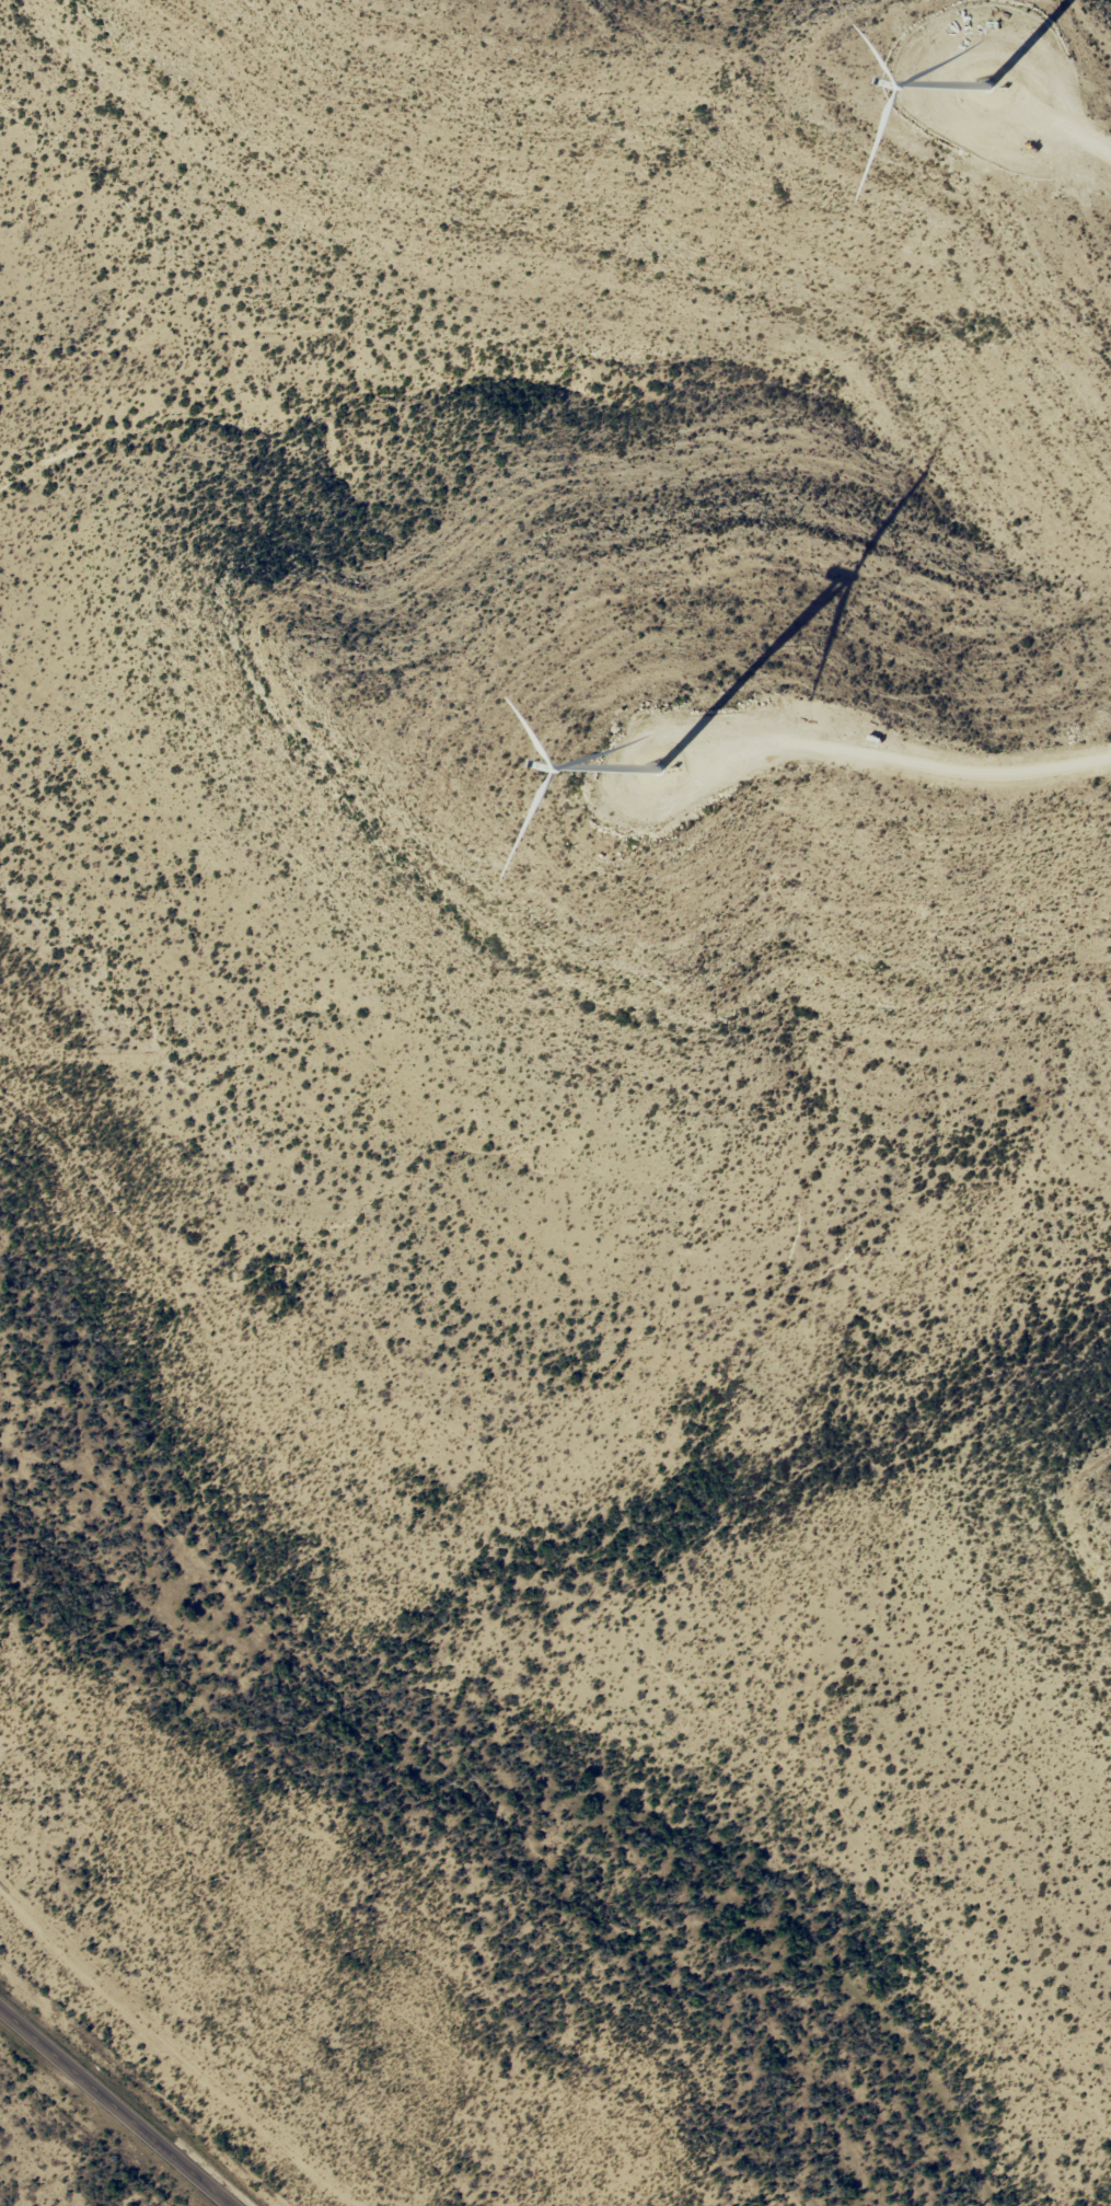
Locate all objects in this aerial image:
wind turbine: (987, 85)
wind turbine: (656, 770)
road: (115, 2106)

